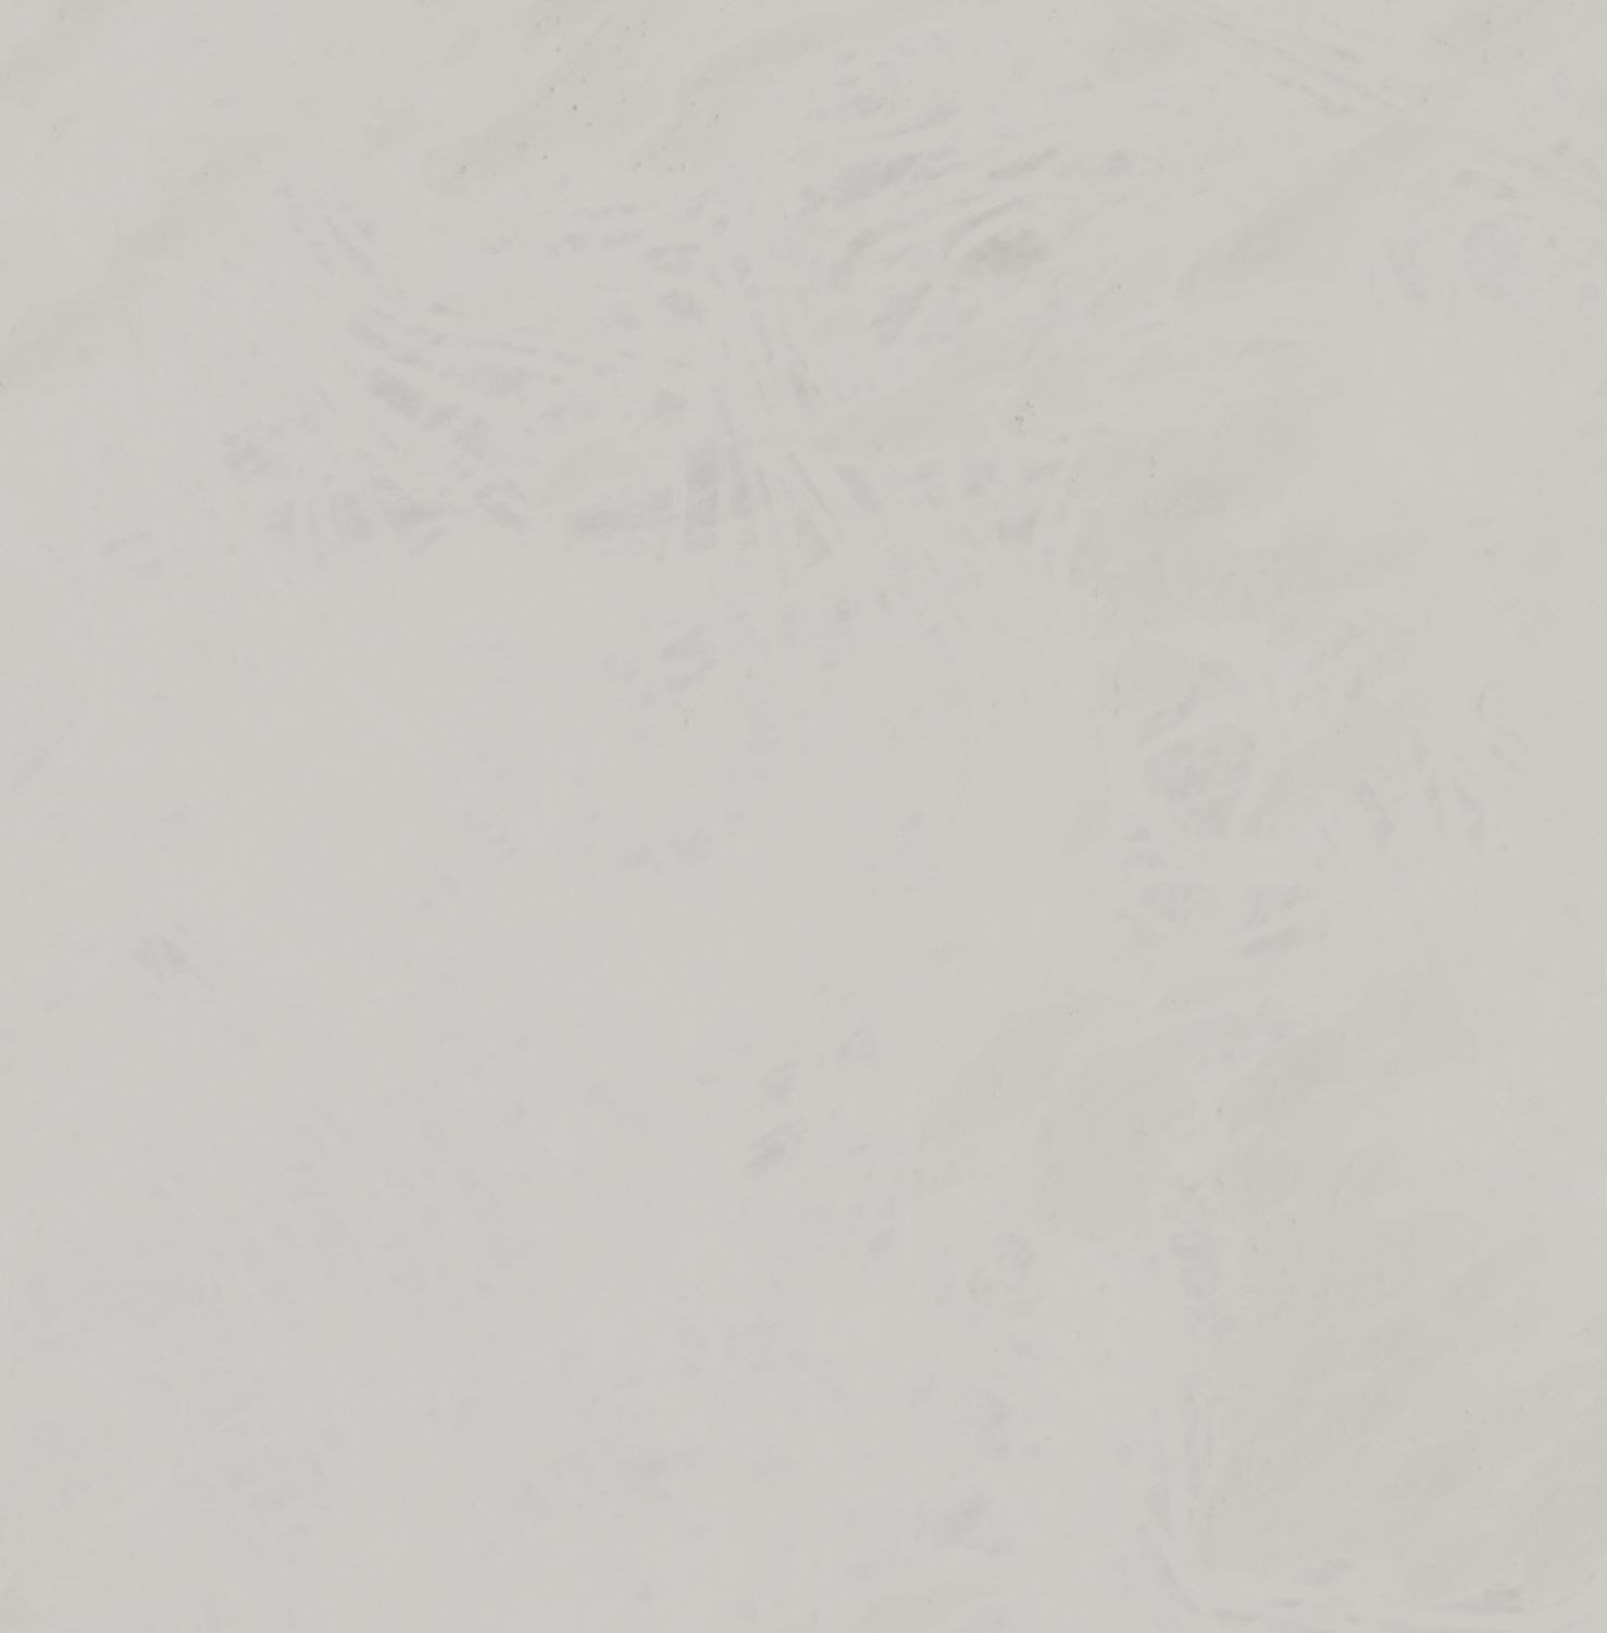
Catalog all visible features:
road: (1091, 816)
building: (1553, 952)
building: (1582, 1067)

